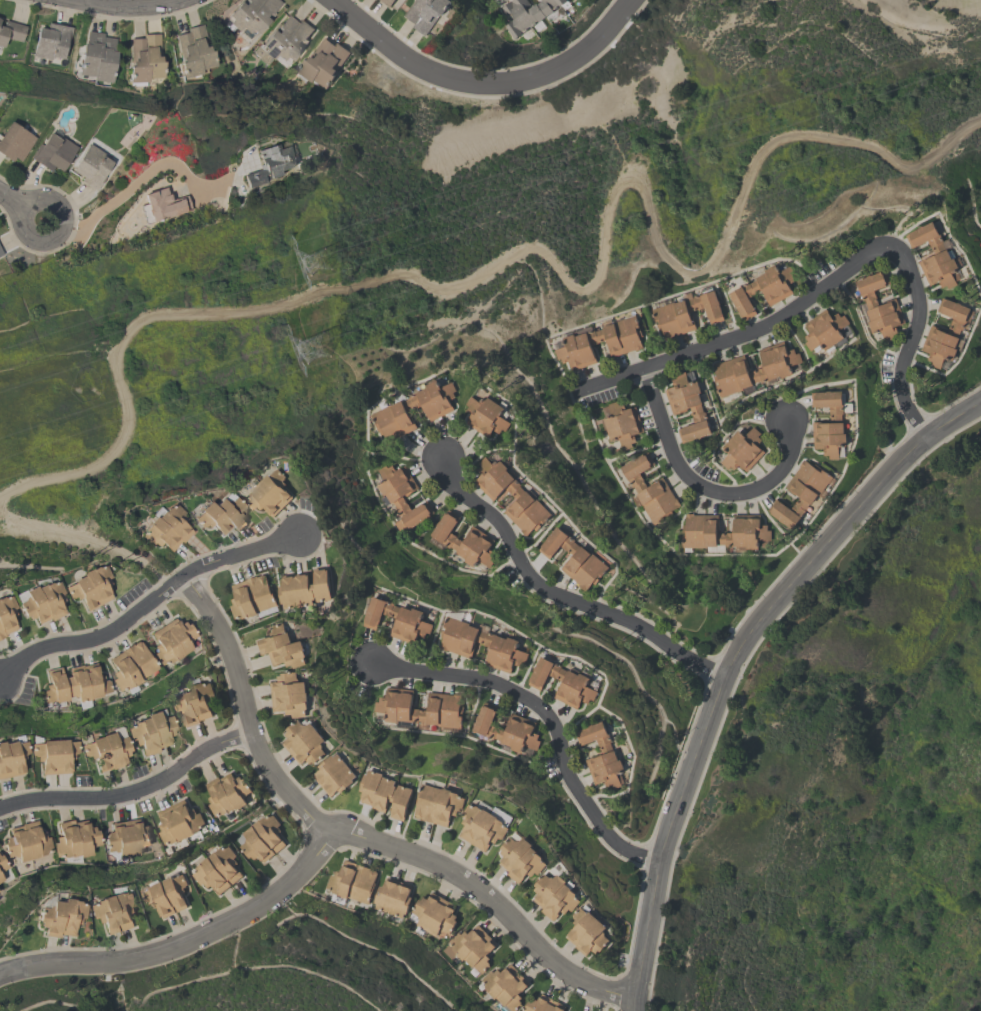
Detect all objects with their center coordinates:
building: (387, 2)
road: (129, 5)
building: (425, 12)
building: (526, 13)
building: (251, 15)
building: (11, 32)
building: (285, 39)
building: (51, 42)
building: (193, 53)
building: (97, 57)
building: (145, 59)
building: (322, 63)
road: (483, 83)
building: (14, 143)
building: (53, 154)
building: (91, 167)
building: (269, 167)
road: (138, 181)
road: (11, 201)
building: (161, 207)
road: (56, 233)
building: (1, 253)
building: (933, 254)
building: (0, 257)
power tower: (316, 257)
building: (762, 288)
road: (823, 290)
building: (879, 305)
building: (686, 312)
building: (823, 329)
building: (946, 331)
building: (582, 339)
power tower: (310, 341)
building: (729, 367)
building: (687, 406)
building: (391, 410)
building: (486, 415)
building: (622, 422)
building: (829, 422)
building: (742, 448)
building: (649, 489)
building: (270, 491)
building: (801, 491)
road: (699, 493)
building: (523, 494)
building: (394, 498)
building: (222, 513)
building: (165, 526)
building: (751, 530)
building: (464, 540)
building: (574, 557)
building: (90, 586)
building: (305, 587)
road: (561, 589)
building: (251, 596)
building: (42, 600)
road: (147, 605)
building: (6, 614)
building: (397, 619)
building: (171, 640)
building: (457, 643)
building: (282, 646)
road: (737, 656)
building: (131, 666)
building: (563, 681)
building: (74, 684)
building: (288, 693)
building: (193, 702)
building: (393, 707)
road: (546, 716)
building: (507, 729)
building: (150, 732)
building: (303, 741)
building: (105, 750)
building: (52, 754)
building: (602, 754)
building: (11, 757)
building: (334, 773)
road: (131, 792)
building: (386, 792)
building: (226, 793)
building: (438, 803)
building: (178, 821)
building: (481, 826)
road: (358, 834)
building: (262, 837)
building: (126, 838)
building: (75, 839)
building: (25, 841)
building: (520, 858)
building: (2, 864)
building: (217, 869)
building: (0, 878)
building: (352, 881)
building: (167, 894)
building: (554, 894)
building: (392, 896)
building: (114, 911)
building: (434, 914)
building: (60, 916)
building: (587, 931)
road: (181, 937)
building: (473, 947)
building: (504, 985)
road: (637, 1003)
building: (543, 1004)

